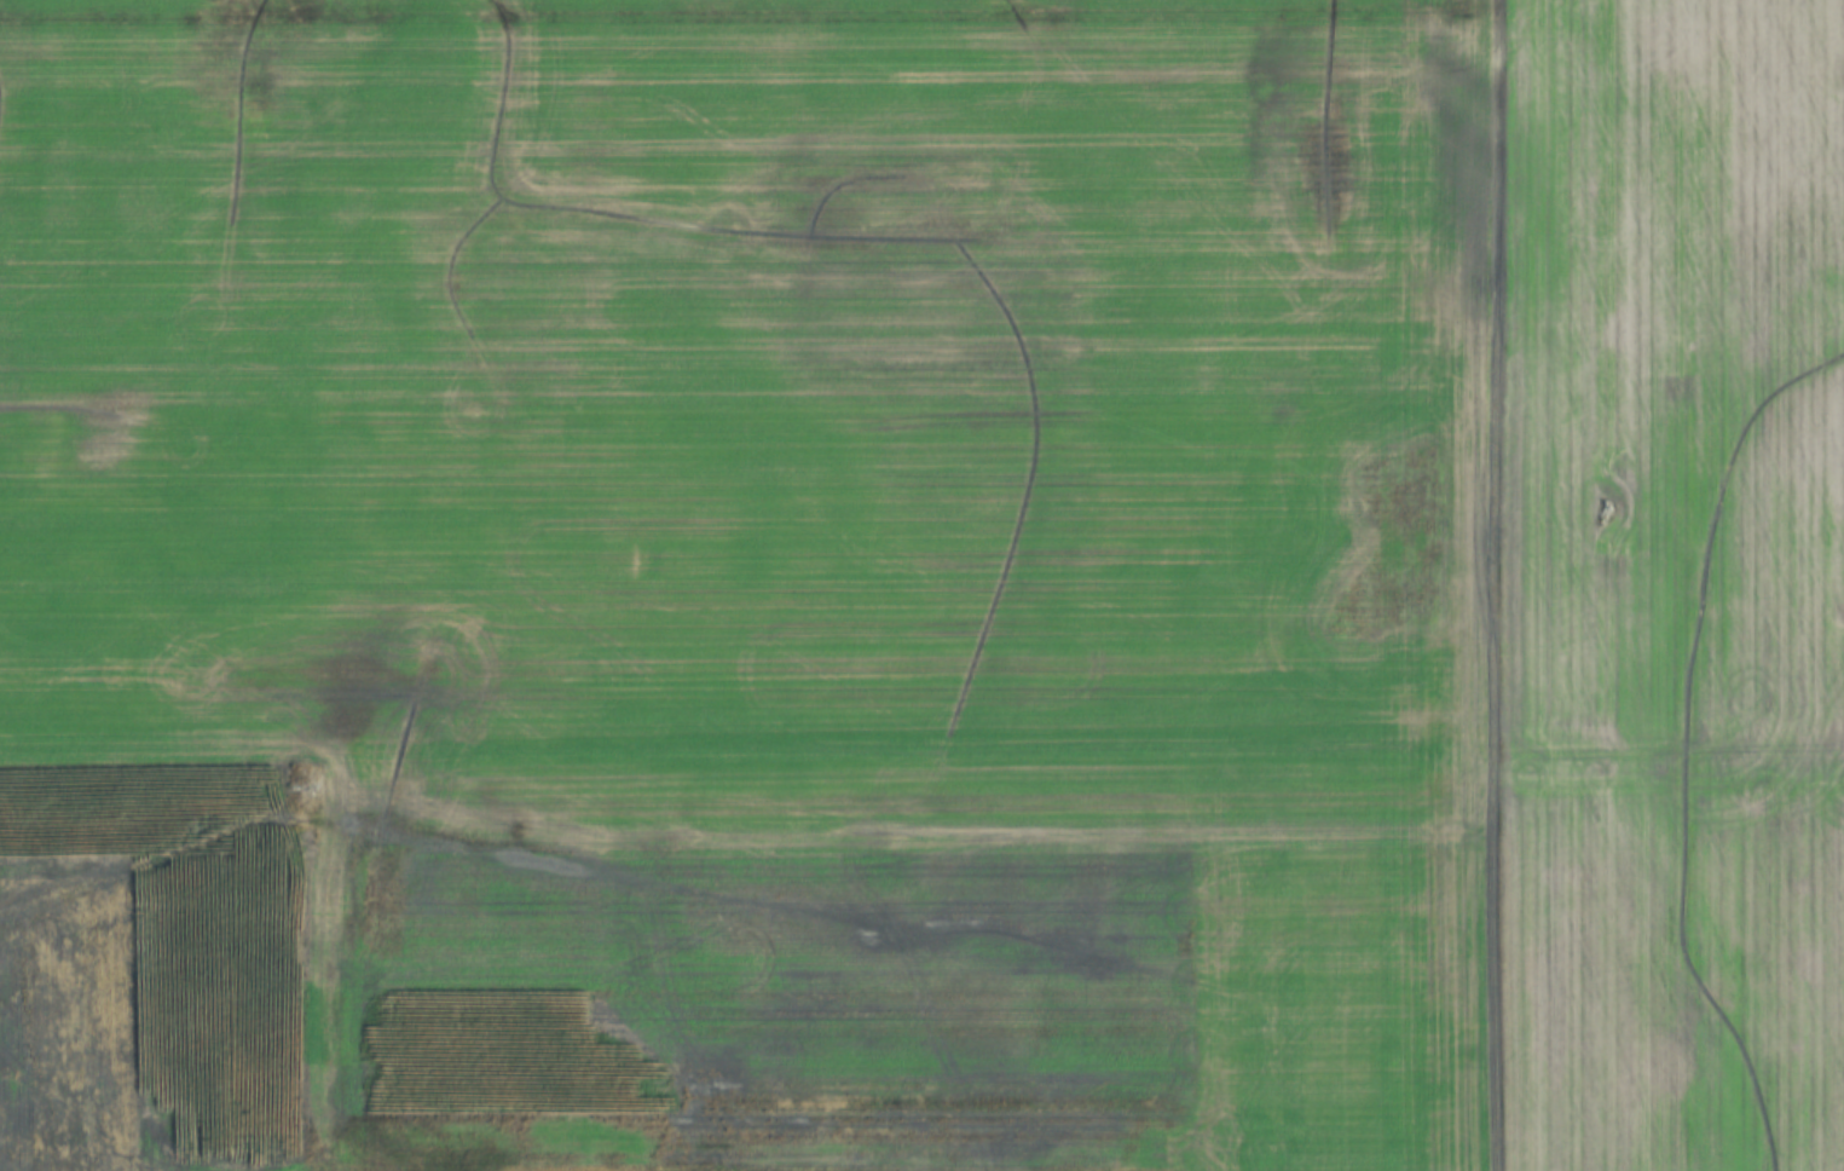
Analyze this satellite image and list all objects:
road: (1499, 391)

